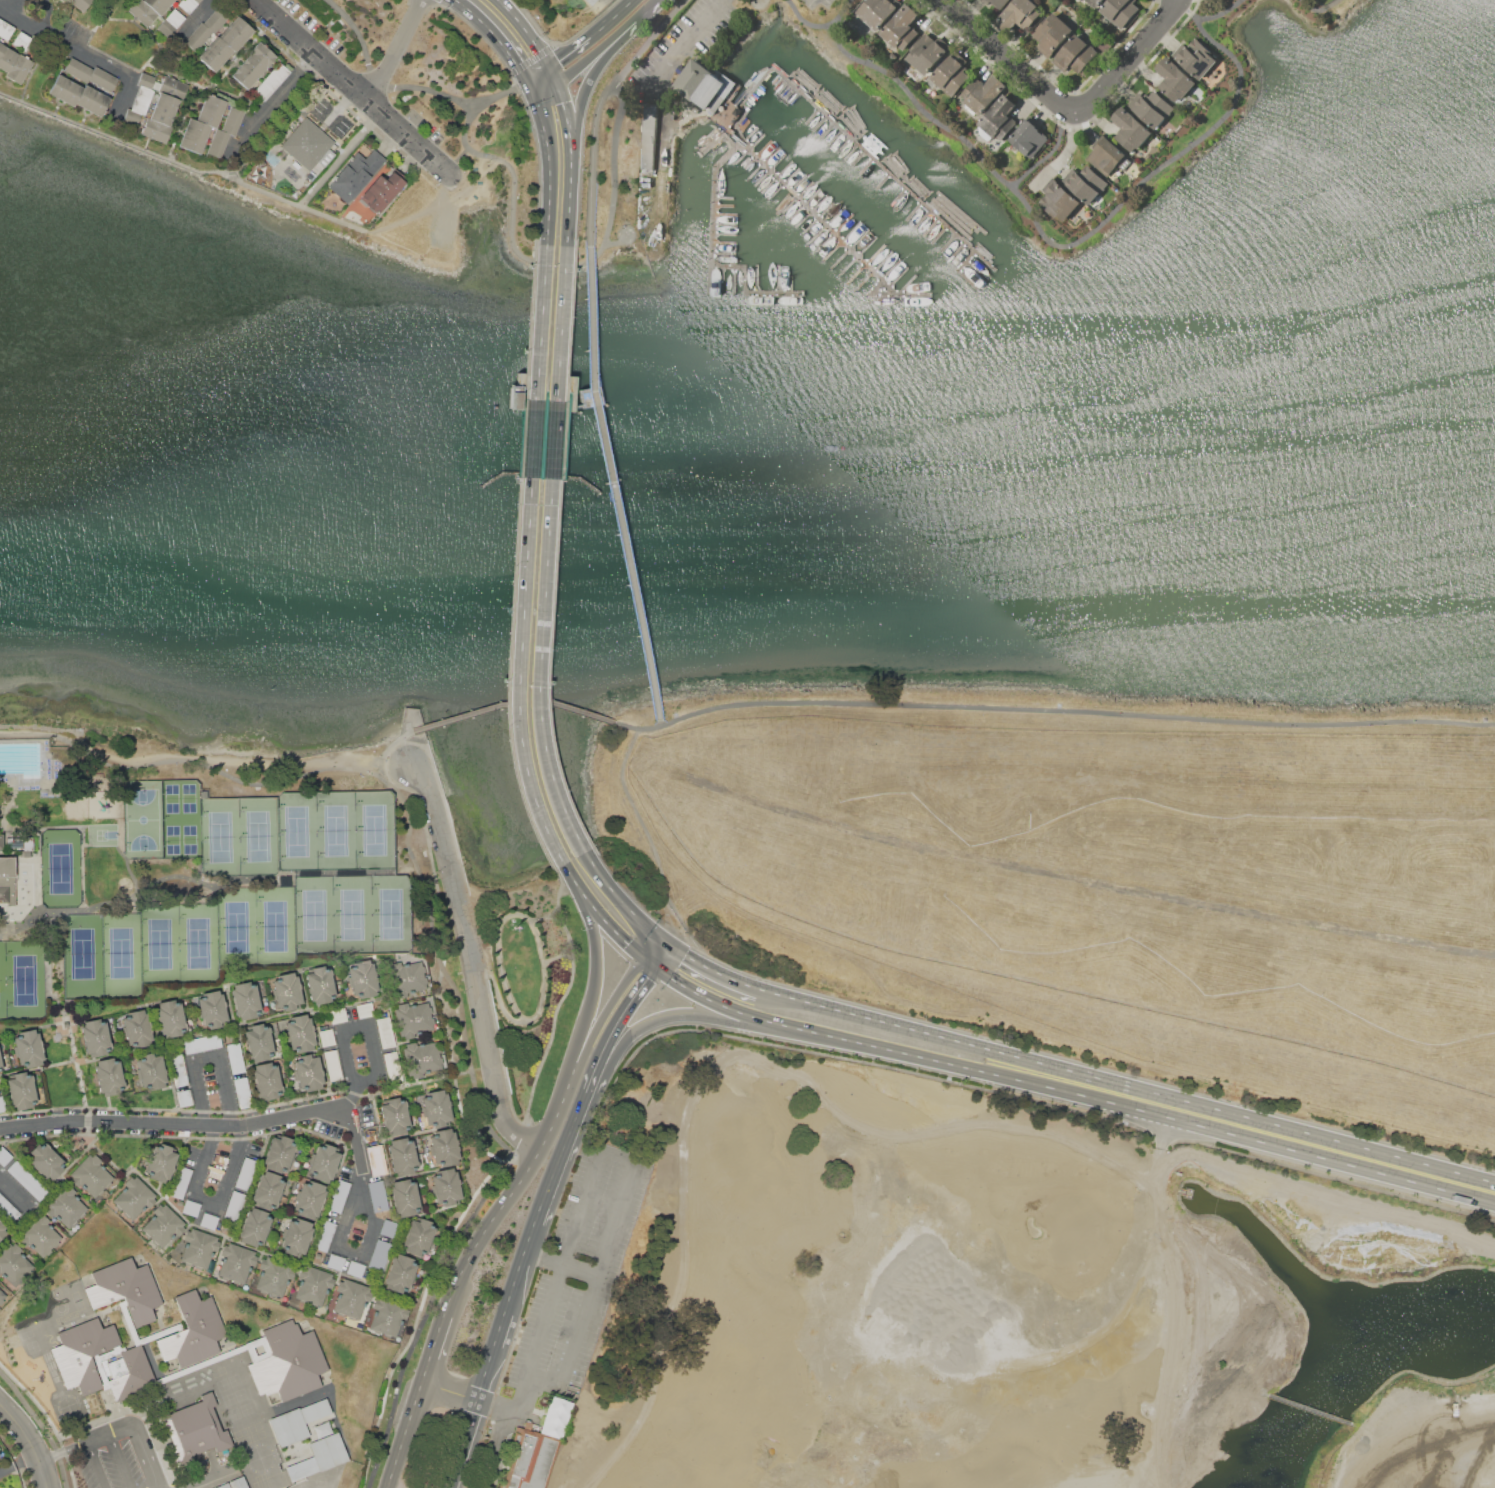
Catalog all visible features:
road: (656, 0)
road: (499, 1)
road: (501, 1)
road: (606, 1)
building: (995, 2)
building: (1096, 3)
road: (14, 4)
building: (81, 4)
building: (188, 4)
road: (1313, 9)
building: (148, 10)
building: (878, 11)
building: (1120, 11)
road: (1188, 12)
road: (45, 14)
building: (1019, 15)
road: (18, 16)
road: (199, 18)
road: (614, 19)
road: (635, 21)
road: (807, 22)
building: (170, 23)
road: (138, 24)
road: (97, 26)
building: (902, 28)
building: (5, 29)
building: (206, 29)
road: (527, 33)
building: (1052, 35)
road: (499, 39)
road: (650, 40)
road: (687, 40)
building: (21, 41)
building: (225, 44)
road: (396, 49)
road: (156, 52)
road: (244, 52)
road: (570, 52)
building: (928, 53)
road: (85, 54)
building: (1075, 55)
building: (1195, 58)
road: (584, 62)
building: (14, 64)
building: (253, 65)
road: (35, 67)
traffic signals: (550, 68)
building: (952, 74)
building: (90, 75)
road: (553, 76)
road: (345, 78)
road: (541, 78)
building: (1174, 79)
building: (271, 82)
park: (446, 84)
traffic signals: (556, 84)
building: (702, 85)
road: (544, 86)
road: (206, 87)
road: (417, 87)
traffic signals: (532, 88)
road: (128, 89)
road: (584, 92)
road: (277, 94)
building: (983, 94)
building: (80, 95)
road: (502, 96)
building: (139, 102)
road: (340, 105)
road: (1066, 106)
building: (164, 109)
building: (1153, 109)
road: (566, 116)
building: (999, 119)
road: (182, 122)
building: (201, 124)
building: (1131, 129)
building: (225, 131)
building: (1028, 138)
building: (648, 139)
pier: (856, 141)
building: (309, 144)
road: (1051, 154)
road: (1067, 154)
road: (342, 157)
building: (1107, 157)
pier: (696, 158)
road: (457, 159)
road: (245, 161)
road: (596, 162)
road: (443, 166)
road: (551, 166)
building: (355, 175)
building: (1087, 184)
road: (257, 187)
building: (382, 190)
road: (570, 199)
building: (1059, 202)
pier: (806, 205)
pier: (714, 210)
road: (619, 245)
road: (1071, 245)
road: (595, 257)
pier: (968, 261)
pier: (746, 292)
pier: (901, 295)
road: (592, 317)
road: (544, 322)
road: (563, 323)
road: (601, 433)
road: (536, 436)
road: (555, 438)
road: (635, 599)
road: (539, 669)
road: (519, 676)
road: (516, 704)
road: (1065, 711)
road: (660, 722)
road: (629, 727)
road: (404, 746)
park: (182, 748)
road: (201, 760)
park: (181, 818)
park: (143, 819)
park: (374, 830)
park: (336, 831)
park: (296, 832)
park: (219, 836)
park: (257, 836)
building: (16, 843)
road: (653, 846)
building: (27, 854)
park: (60, 870)
landfill: (1096, 876)
building: (7, 882)
road: (620, 894)
road: (559, 906)
road: (601, 913)
road: (442, 915)
park: (314, 916)
park: (351, 916)
park: (390, 916)
park: (275, 927)
park: (236, 928)
road: (566, 930)
road: (662, 933)
road: (649, 942)
park: (159, 945)
park: (198, 945)
road: (658, 949)
park: (120, 954)
park: (82, 955)
road: (558, 957)
road: (646, 957)
road: (475, 962)
road: (709, 968)
building: (407, 978)
building: (363, 979)
road: (593, 981)
park: (24, 982)
park: (534, 982)
building: (320, 985)
building: (287, 991)
road: (498, 995)
building: (247, 998)
building: (212, 1009)
building: (364, 1009)
building: (337, 1015)
building: (171, 1018)
road: (695, 1018)
building: (413, 1019)
road: (525, 1020)
road: (596, 1020)
road: (613, 1023)
building: (137, 1028)
road: (555, 1029)
building: (300, 1033)
building: (385, 1033)
building: (95, 1037)
building: (327, 1038)
building: (258, 1042)
building: (202, 1044)
building: (29, 1048)
road: (342, 1049)
road: (205, 1056)
building: (235, 1058)
building: (422, 1058)
building: (1, 1062)
building: (332, 1065)
building: (393, 1067)
road: (372, 1068)
building: (178, 1070)
building: (151, 1072)
building: (308, 1072)
building: (0, 1073)
building: (109, 1077)
building: (267, 1081)
road: (1126, 1084)
road: (402, 1088)
road: (1068, 1090)
building: (21, 1091)
building: (243, 1093)
building: (183, 1098)
building: (2, 1104)
building: (436, 1108)
road: (577, 1115)
building: (394, 1116)
road: (173, 1124)
road: (486, 1126)
building: (372, 1134)
road: (355, 1139)
building: (444, 1147)
building: (279, 1154)
building: (401, 1155)
building: (4, 1156)
building: (376, 1160)
building: (45, 1161)
building: (323, 1162)
building: (160, 1163)
road: (631, 1165)
building: (244, 1173)
building: (91, 1176)
building: (27, 1180)
road: (552, 1181)
building: (180, 1182)
road: (358, 1183)
building: (446, 1186)
building: (268, 1190)
road: (13, 1192)
building: (338, 1196)
building: (378, 1196)
building: (134, 1198)
building: (404, 1198)
road: (210, 1199)
building: (309, 1199)
road: (507, 1204)
building: (66, 1206)
building: (233, 1206)
building: (191, 1208)
building: (7, 1209)
building: (208, 1221)
building: (163, 1225)
building: (254, 1227)
building: (389, 1229)
building: (1, 1230)
building: (324, 1235)
building: (40, 1236)
building: (296, 1236)
building: (418, 1237)
building: (198, 1248)
building: (379, 1255)
building: (334, 1262)
building: (236, 1263)
building: (14, 1264)
road: (561, 1266)
road: (523, 1267)
building: (355, 1268)
building: (400, 1274)
building: (273, 1276)
building: (313, 1285)
building: (126, 1289)
road: (1163, 1291)
building: (2, 1296)
building: (351, 1299)
parking lot: (571, 1299)
park: (1009, 1305)
building: (387, 1317)
building: (194, 1328)
road: (436, 1350)
building: (82, 1353)
building: (286, 1361)
road: (1216, 1362)
building: (130, 1373)
road: (451, 1393)
road: (479, 1400)
road: (1311, 1409)
building: (297, 1422)
building: (194, 1429)
building: (322, 1429)
road: (1424, 1429)
road: (406, 1436)
road: (85, 1440)
road: (29, 1443)
building: (535, 1447)
road: (144, 1455)
building: (319, 1457)
road: (118, 1460)
road: (25, 1461)
road: (95, 1464)
road: (7, 1470)
building: (239, 1483)
building: (223, 1486)

